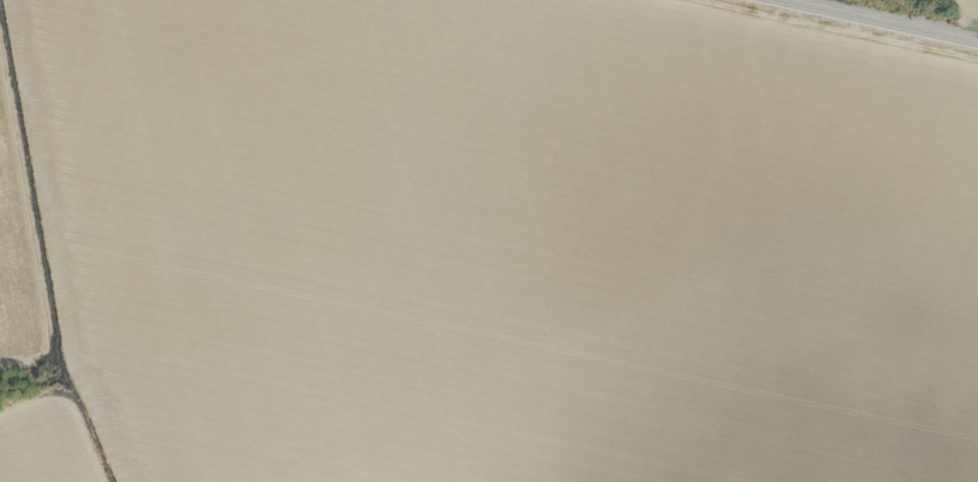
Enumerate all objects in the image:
railway: (876, 21)

